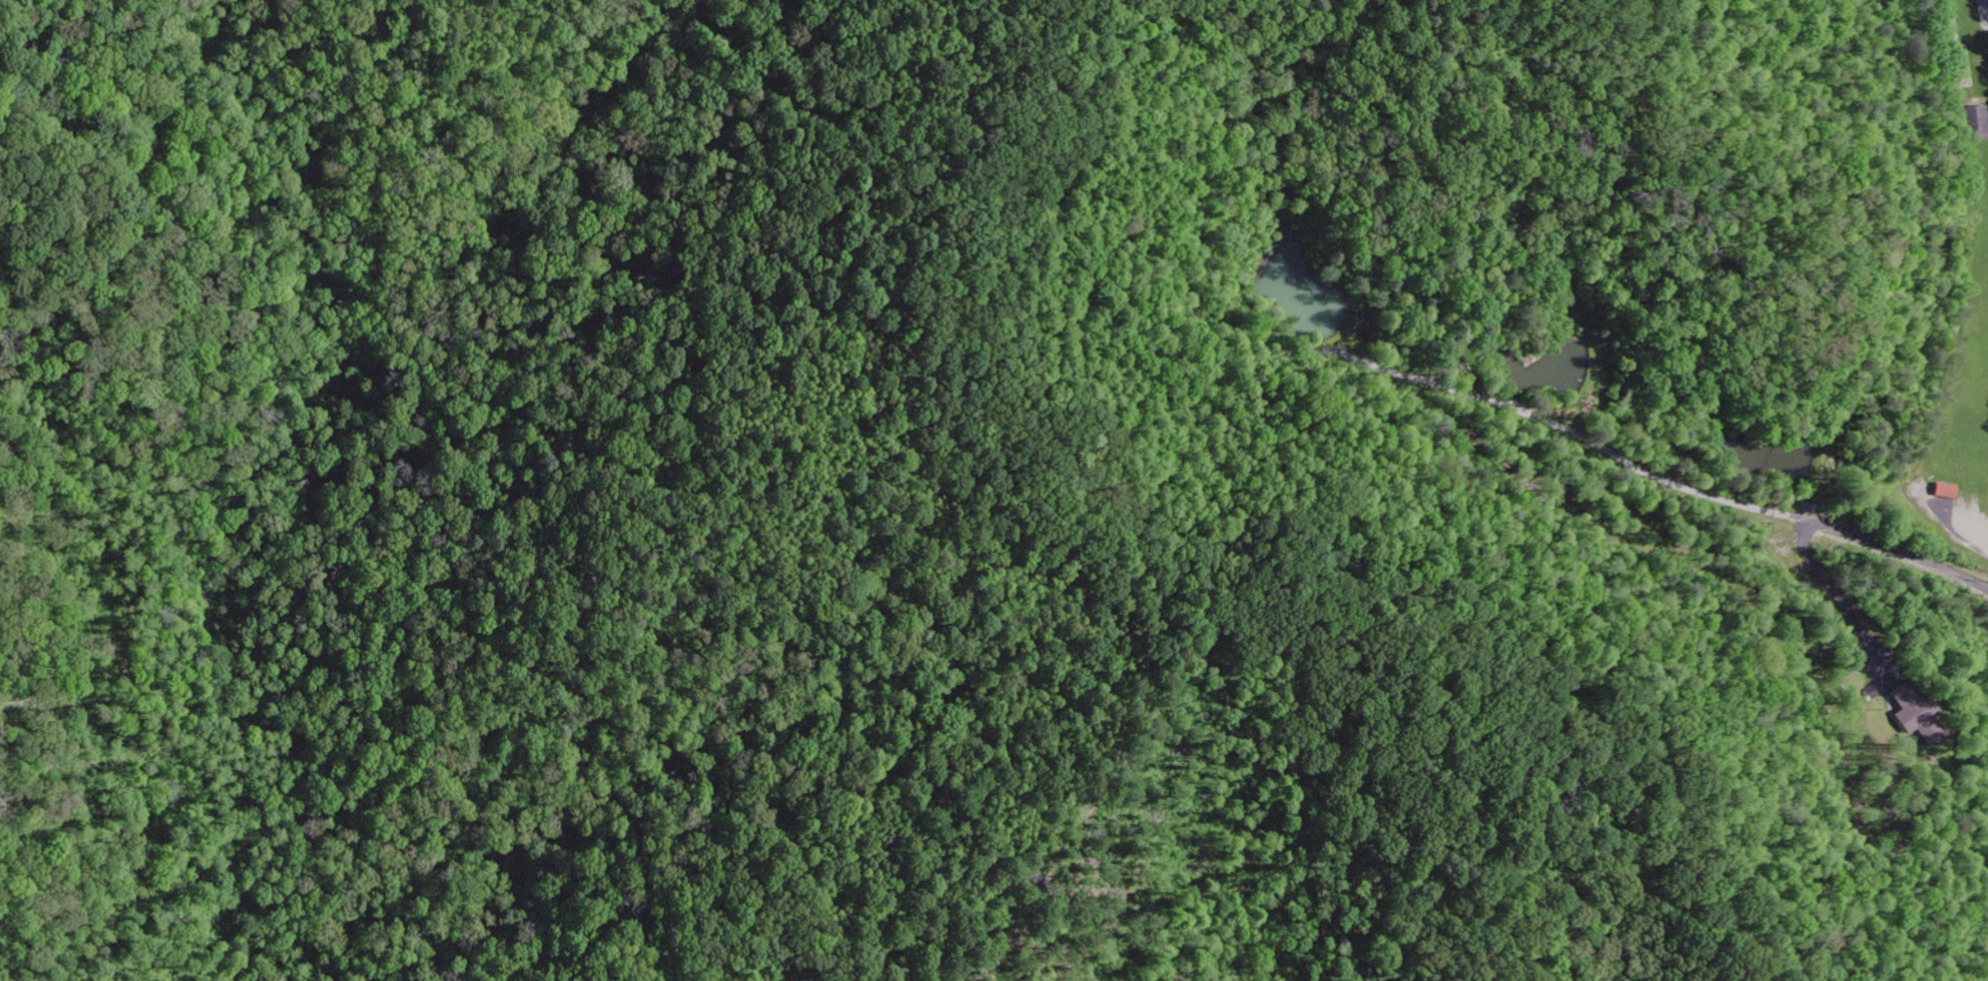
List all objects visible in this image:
building: (1946, 492)
building: (1917, 714)

